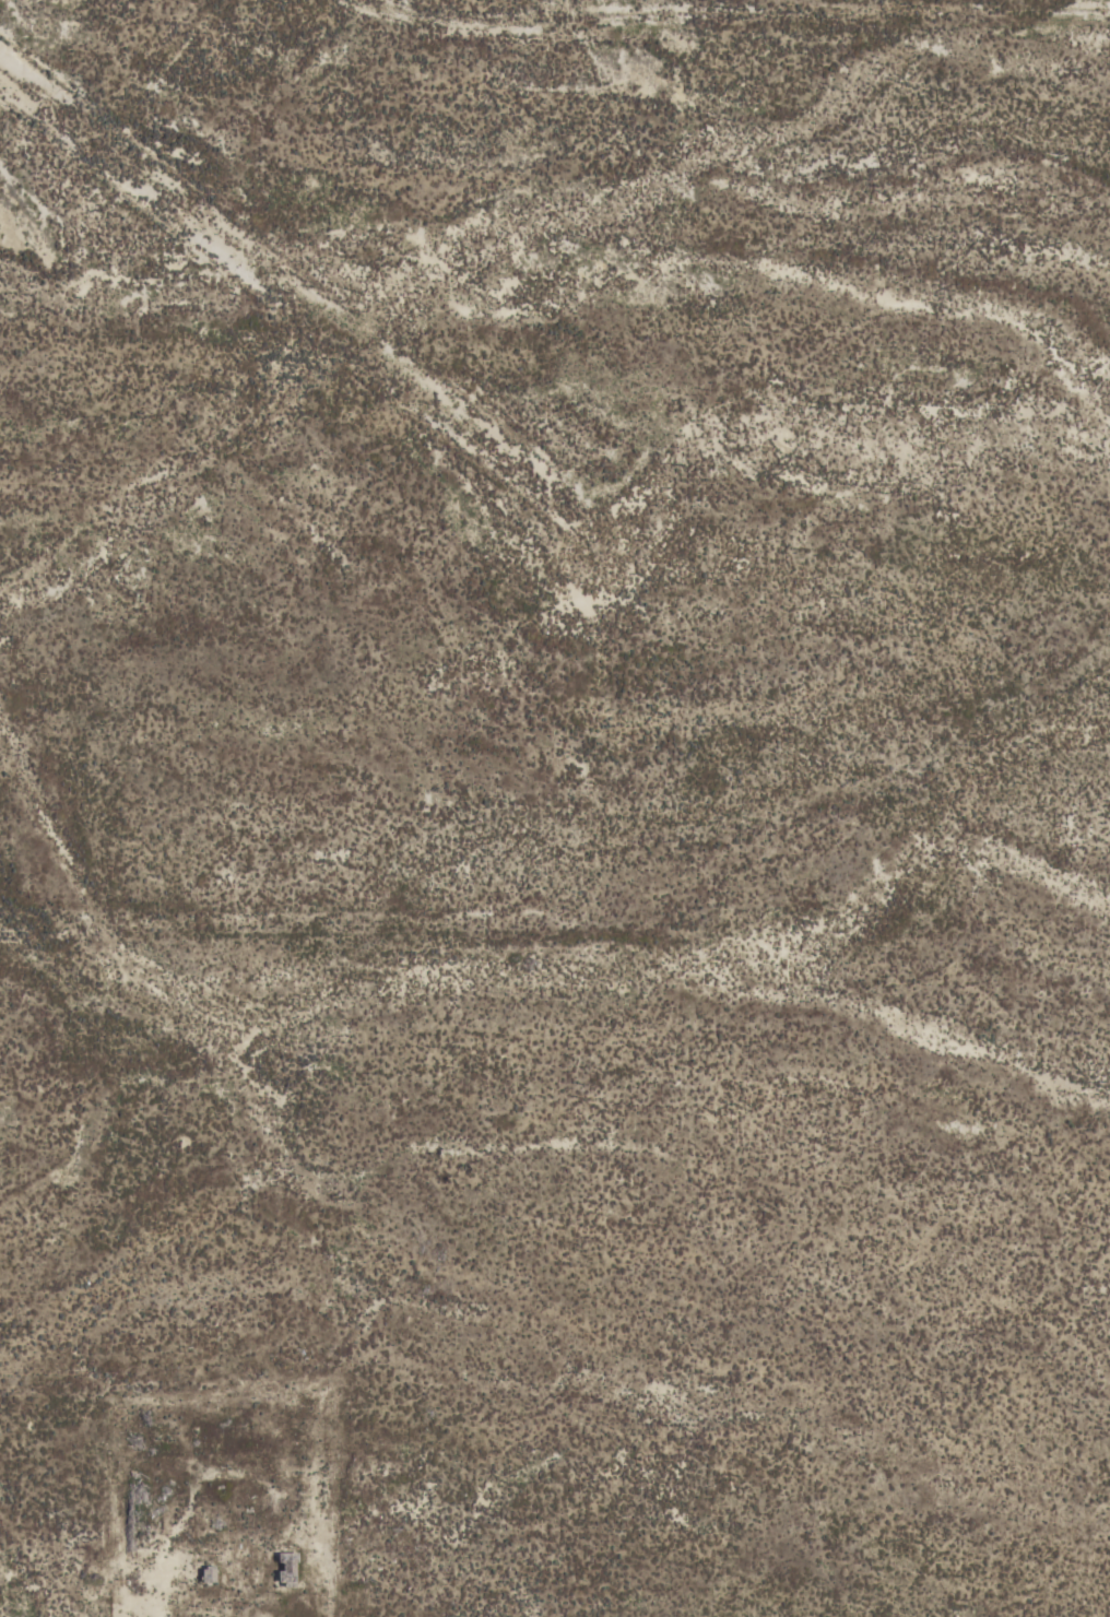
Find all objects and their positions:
building: (287, 1569)
building: (208, 1573)

